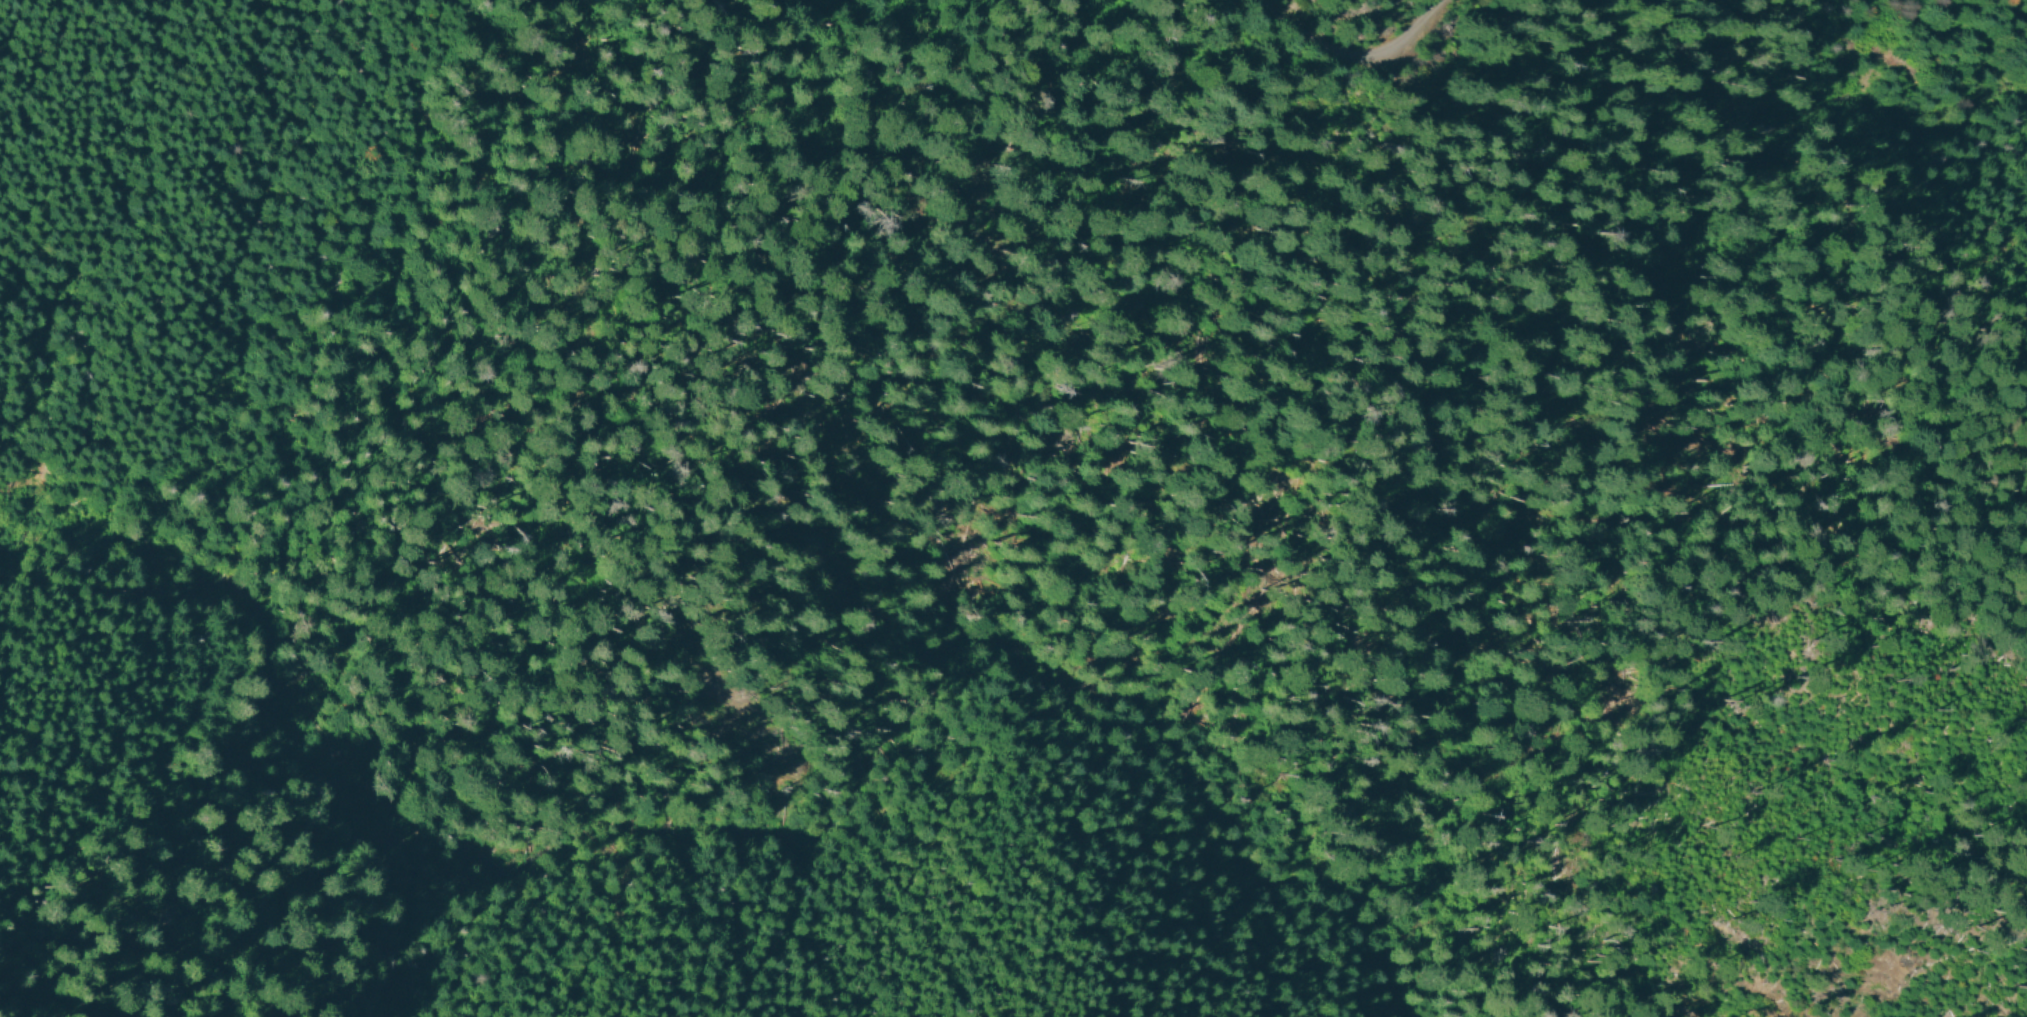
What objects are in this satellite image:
road: (1348, 54)

